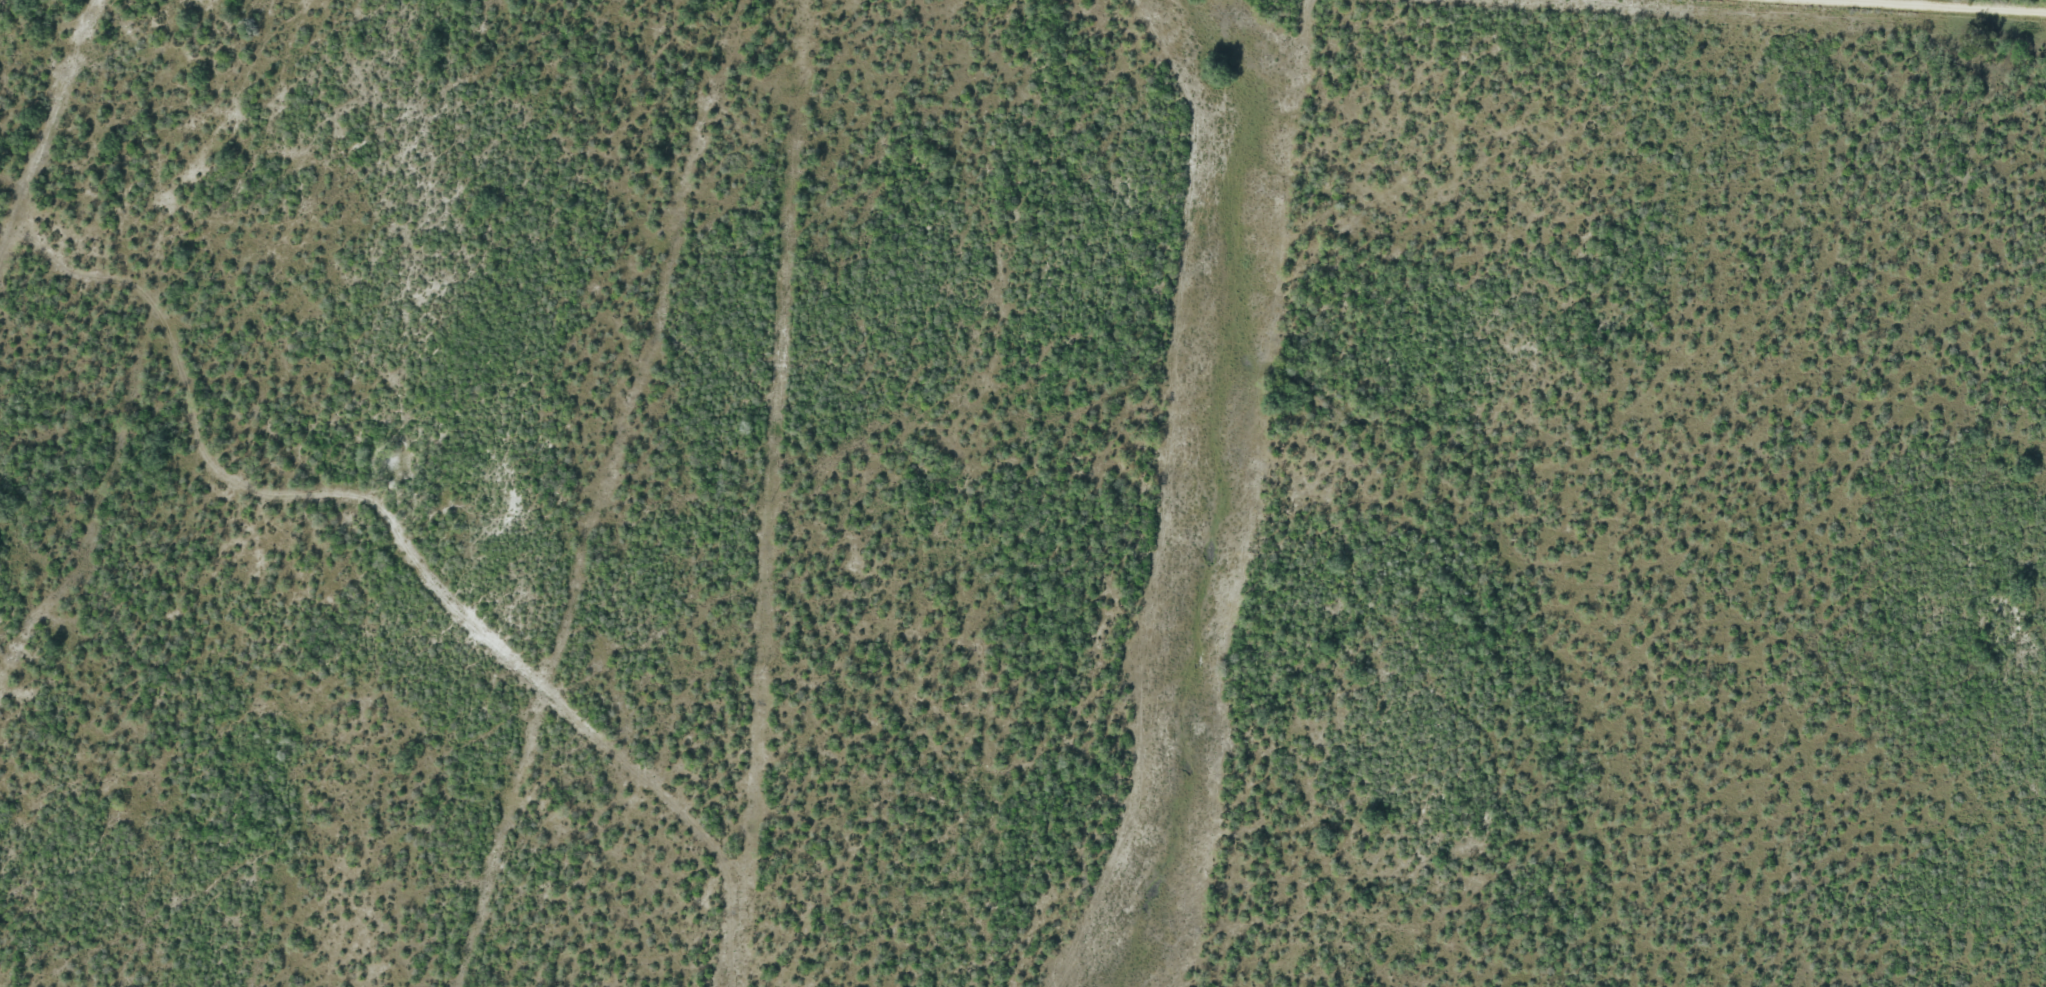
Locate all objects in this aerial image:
road: (1930, 7)

